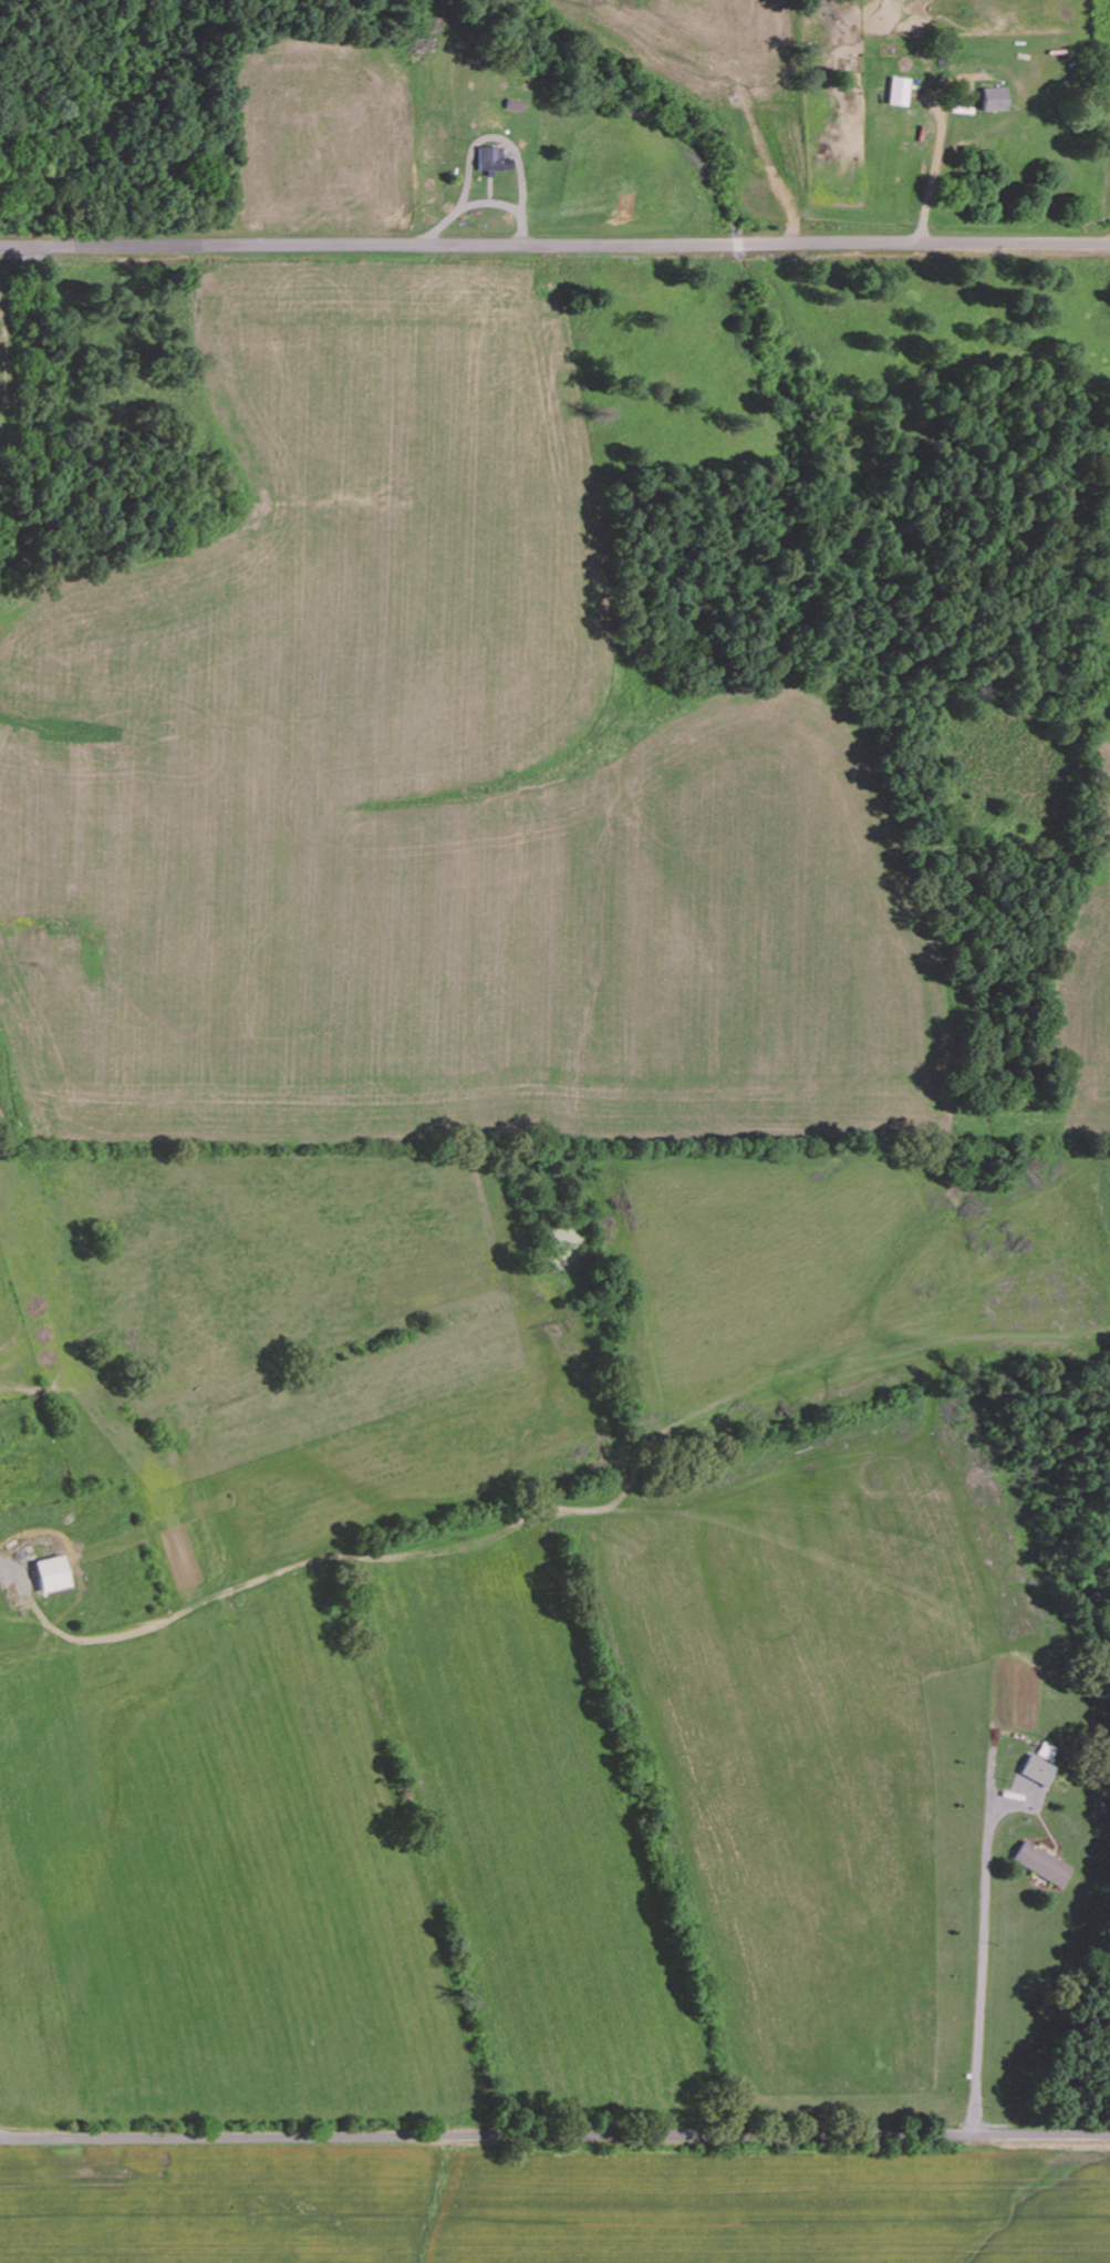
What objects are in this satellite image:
building: (899, 91)
building: (994, 99)
building: (489, 158)
road: (554, 244)
building: (48, 1573)
building: (1037, 1770)
building: (1041, 1863)
road: (554, 2135)

